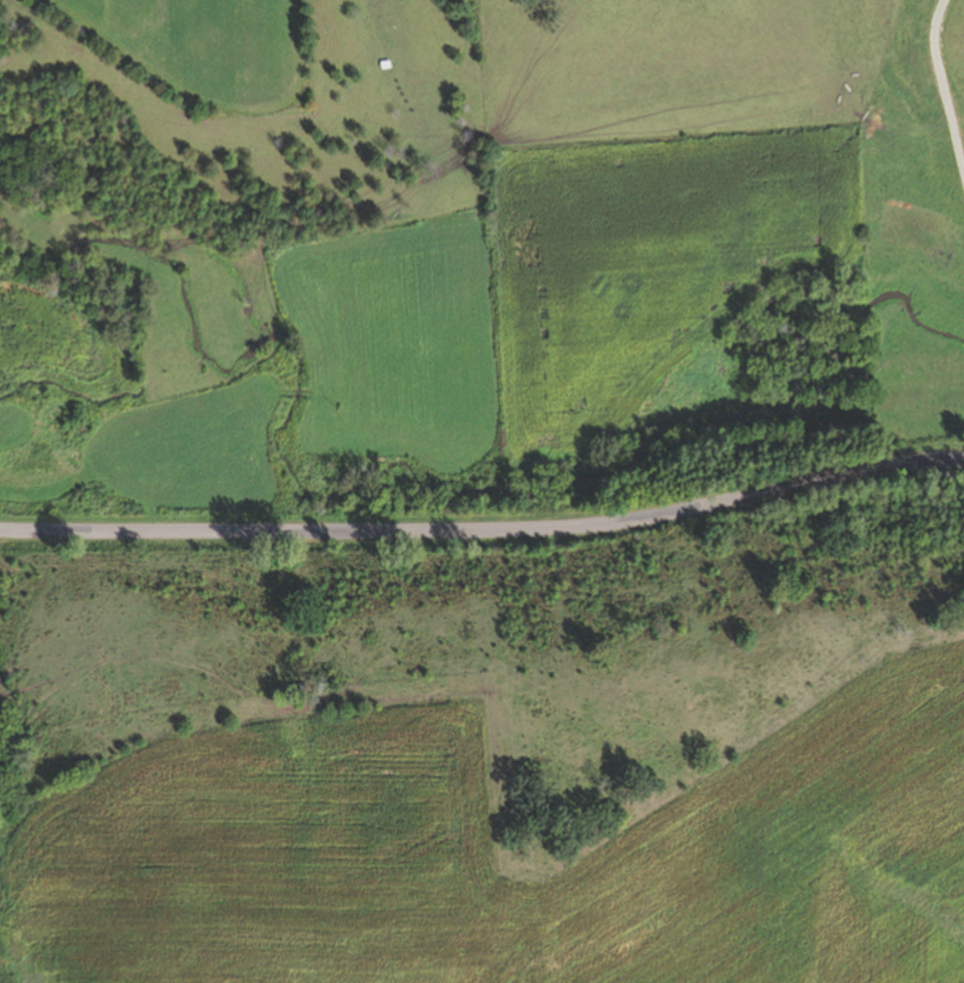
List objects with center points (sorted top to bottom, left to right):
road: (946, 82)
building: (935, 201)
road: (485, 529)

